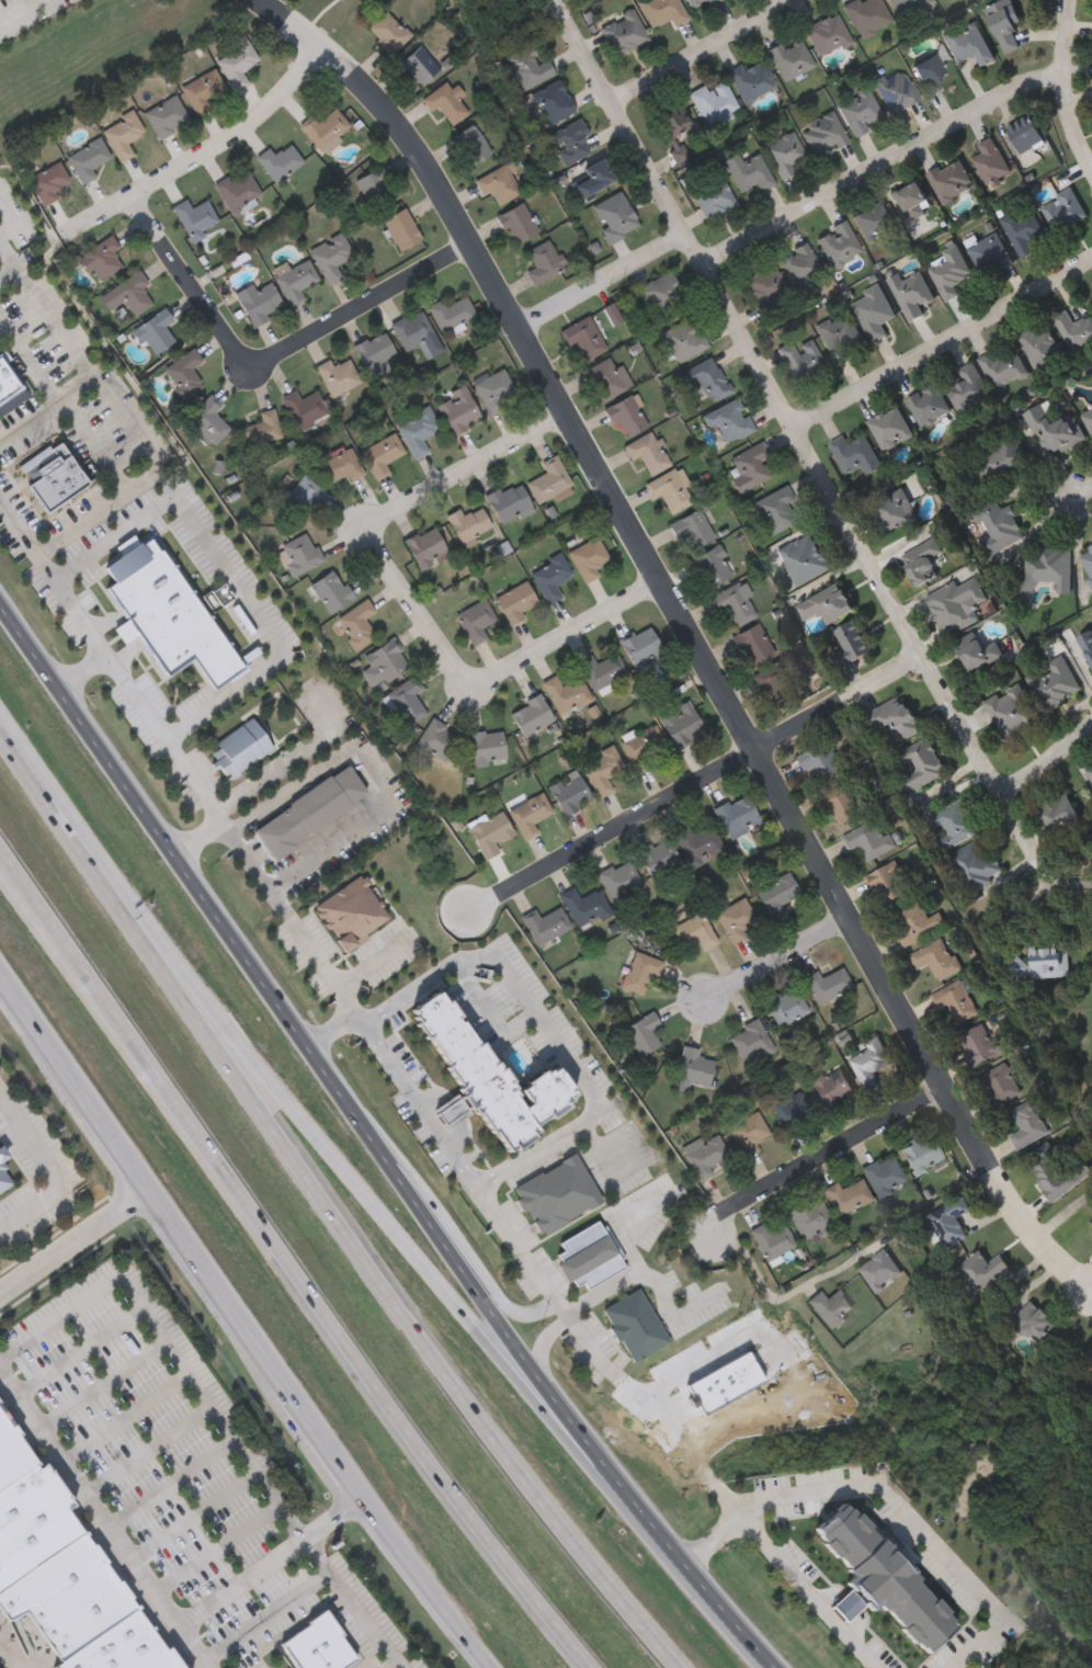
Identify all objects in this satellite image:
building: (697, 3)
building: (907, 5)
road: (19, 11)
building: (662, 11)
park: (545, 15)
building: (867, 15)
building: (1004, 23)
building: (388, 32)
building: (623, 32)
building: (828, 35)
building: (968, 44)
road: (699, 52)
road: (583, 55)
building: (790, 58)
building: (238, 61)
building: (419, 66)
building: (527, 68)
building: (931, 73)
building: (751, 80)
road: (1063, 86)
building: (205, 91)
building: (896, 91)
building: (713, 101)
building: (445, 103)
building: (553, 103)
building: (861, 113)
building: (167, 116)
building: (674, 123)
building: (327, 131)
building: (1028, 133)
building: (823, 135)
building: (123, 136)
building: (570, 144)
building: (473, 146)
road: (203, 154)
building: (679, 155)
building: (785, 156)
building: (88, 159)
building: (992, 161)
building: (278, 162)
road: (878, 162)
building: (748, 172)
building: (592, 178)
building: (953, 180)
building: (48, 183)
building: (500, 185)
building: (375, 189)
building: (237, 192)
building: (713, 198)
building: (915, 200)
building: (1065, 209)
building: (614, 217)
building: (195, 218)
building: (875, 222)
building: (516, 225)
building: (401, 230)
building: (1024, 230)
building: (839, 245)
building: (991, 254)
building: (331, 257)
building: (101, 259)
building: (543, 263)
road: (11, 265)
building: (799, 265)
building: (949, 270)
road: (600, 279)
building: (296, 282)
building: (766, 290)
building: (659, 292)
building: (129, 293)
building: (911, 293)
building: (260, 300)
building: (874, 313)
building: (452, 314)
building: (1076, 330)
building: (156, 331)
building: (412, 331)
building: (840, 336)
building: (585, 340)
building: (683, 340)
road: (941, 340)
building: (1042, 345)
building: (374, 353)
road: (273, 356)
building: (801, 360)
building: (1004, 366)
road: (79, 372)
building: (184, 374)
building: (337, 376)
building: (707, 378)
building: (606, 379)
building: (9, 388)
building: (969, 388)
building: (494, 390)
building: (930, 404)
building: (304, 408)
building: (458, 410)
building: (627, 417)
building: (1088, 418)
building: (209, 420)
building: (728, 420)
building: (891, 427)
building: (261, 429)
building: (1055, 429)
building: (417, 431)
building: (646, 453)
building: (380, 454)
building: (856, 454)
building: (1000, 457)
building: (341, 466)
building: (750, 467)
building: (52, 477)
road: (144, 479)
building: (548, 480)
road: (822, 481)
building: (670, 490)
road: (1083, 492)
building: (302, 496)
building: (509, 502)
building: (896, 509)
building: (775, 510)
road: (625, 523)
building: (467, 524)
building: (998, 524)
building: (691, 531)
building: (425, 548)
building: (299, 554)
building: (587, 558)
building: (804, 559)
building: (925, 560)
building: (1087, 560)
building: (712, 567)
building: (1045, 569)
road: (229, 577)
building: (549, 577)
building: (330, 591)
building: (516, 602)
building: (735, 603)
building: (956, 603)
road: (409, 604)
building: (827, 604)
building: (475, 622)
building: (356, 625)
building: (850, 644)
building: (1087, 644)
building: (753, 646)
building: (640, 647)
building: (977, 650)
building: (384, 665)
building: (601, 670)
road: (81, 673)
building: (774, 683)
building: (1054, 683)
building: (565, 694)
building: (405, 701)
building: (1012, 712)
building: (531, 715)
building: (896, 717)
building: (682, 725)
building: (435, 740)
building: (487, 747)
building: (239, 748)
building: (644, 748)
road: (355, 753)
building: (820, 760)
building: (918, 764)
road: (1045, 767)
building: (602, 770)
building: (1090, 771)
road: (269, 778)
road: (693, 782)
building: (570, 793)
building: (843, 804)
building: (309, 812)
building: (1058, 813)
building: (528, 815)
building: (737, 815)
building: (952, 822)
building: (489, 832)
building: (868, 840)
building: (698, 844)
building: (659, 859)
building: (975, 866)
building: (619, 880)
road: (1058, 881)
building: (888, 885)
building: (776, 893)
building: (584, 907)
building: (736, 920)
building: (915, 923)
building: (546, 924)
building: (695, 932)
building: (935, 957)
road: (776, 958)
building: (1043, 962)
building: (642, 975)
building: (827, 985)
road: (7, 1000)
building: (955, 1000)
building: (786, 1007)
road: (360, 1020)
road: (549, 1026)
road: (331, 1031)
building: (642, 1034)
building: (750, 1042)
building: (979, 1044)
building: (869, 1062)
building: (693, 1070)
building: (488, 1082)
building: (1001, 1082)
building: (833, 1087)
building: (787, 1112)
building: (1030, 1124)
building: (748, 1133)
road: (377, 1146)
road: (606, 1147)
road: (326, 1149)
building: (921, 1153)
building: (704, 1154)
building: (3, 1156)
road: (822, 1156)
building: (1057, 1171)
building: (884, 1176)
road: (49, 1177)
building: (3, 1182)
building: (557, 1196)
building: (848, 1196)
road: (1006, 1199)
road: (329, 1209)
building: (809, 1217)
road: (1063, 1217)
building: (949, 1219)
building: (771, 1239)
road: (68, 1245)
building: (589, 1257)
road: (288, 1260)
building: (879, 1270)
building: (980, 1271)
road: (647, 1272)
road: (780, 1301)
building: (829, 1308)
road: (514, 1309)
road: (678, 1309)
building: (1032, 1323)
building: (634, 1325)
road: (246, 1343)
road: (546, 1343)
road: (80, 1354)
building: (1088, 1357)
road: (795, 1358)
road: (102, 1387)
road: (216, 1418)
road: (125, 1420)
road: (148, 1452)
building: (13, 1456)
road: (170, 1484)
road: (894, 1498)
road: (194, 1517)
building: (34, 1525)
road: (217, 1551)
building: (879, 1580)
building: (56, 1585)
road: (153, 1590)
road: (812, 1592)
road: (263, 1614)
building: (89, 1619)
building: (311, 1642)
road: (193, 1647)
building: (126, 1649)
building: (331, 1658)
road: (8, 1661)
road: (389, 1664)

